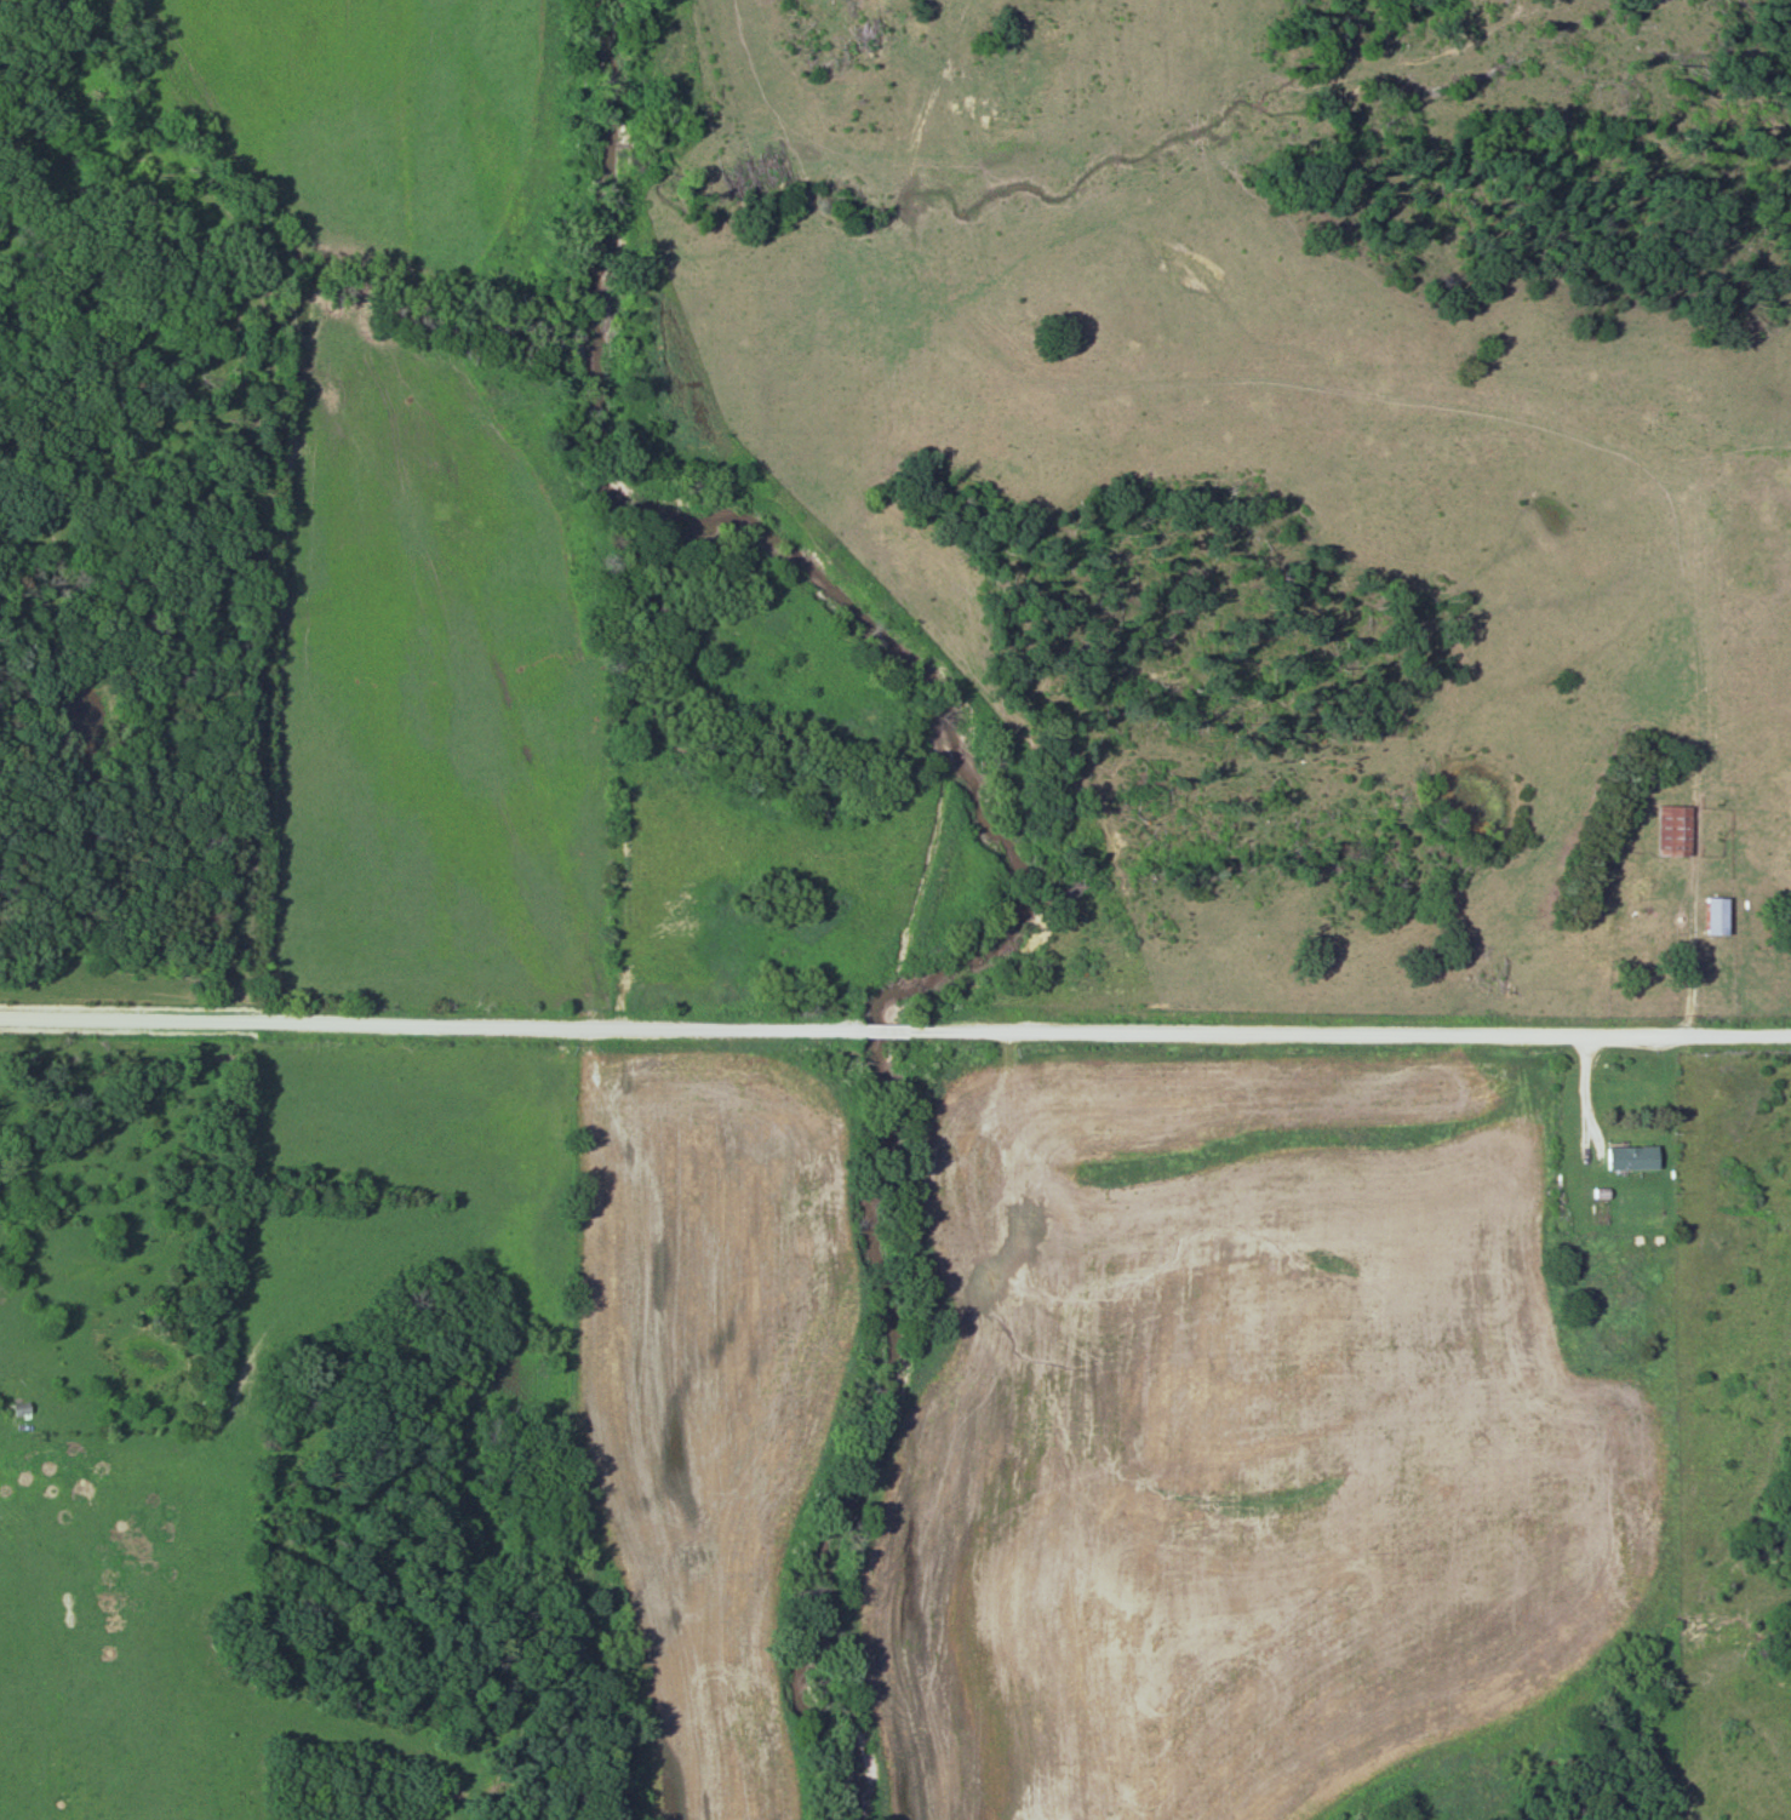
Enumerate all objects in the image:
building: (1779, 792)
building: (1671, 834)
building: (1712, 918)
building: (1642, 992)
road: (894, 1032)
building: (1627, 1160)
building: (1607, 1212)

